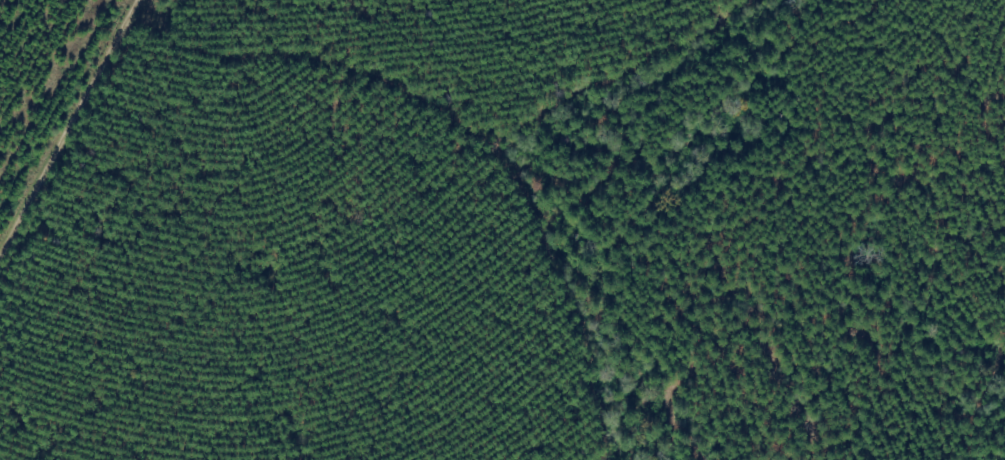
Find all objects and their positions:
road: (66, 135)

